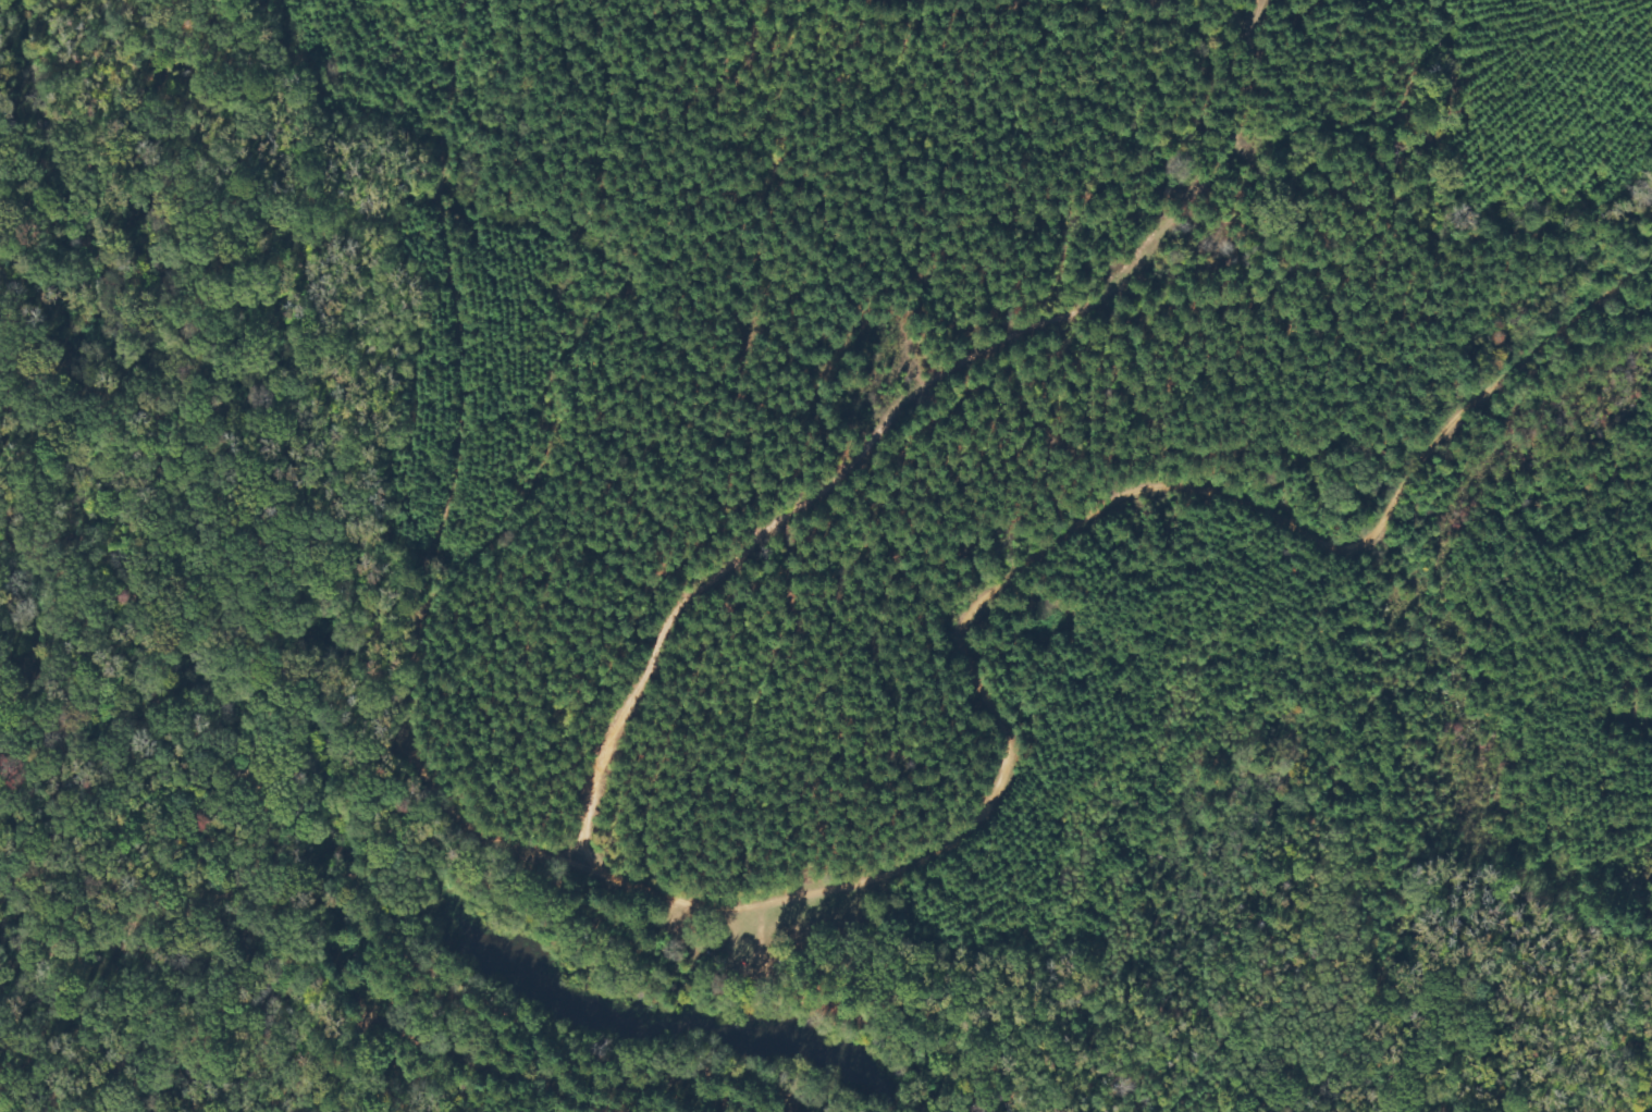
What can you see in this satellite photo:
road: (300, 938)
road: (205, 1064)

